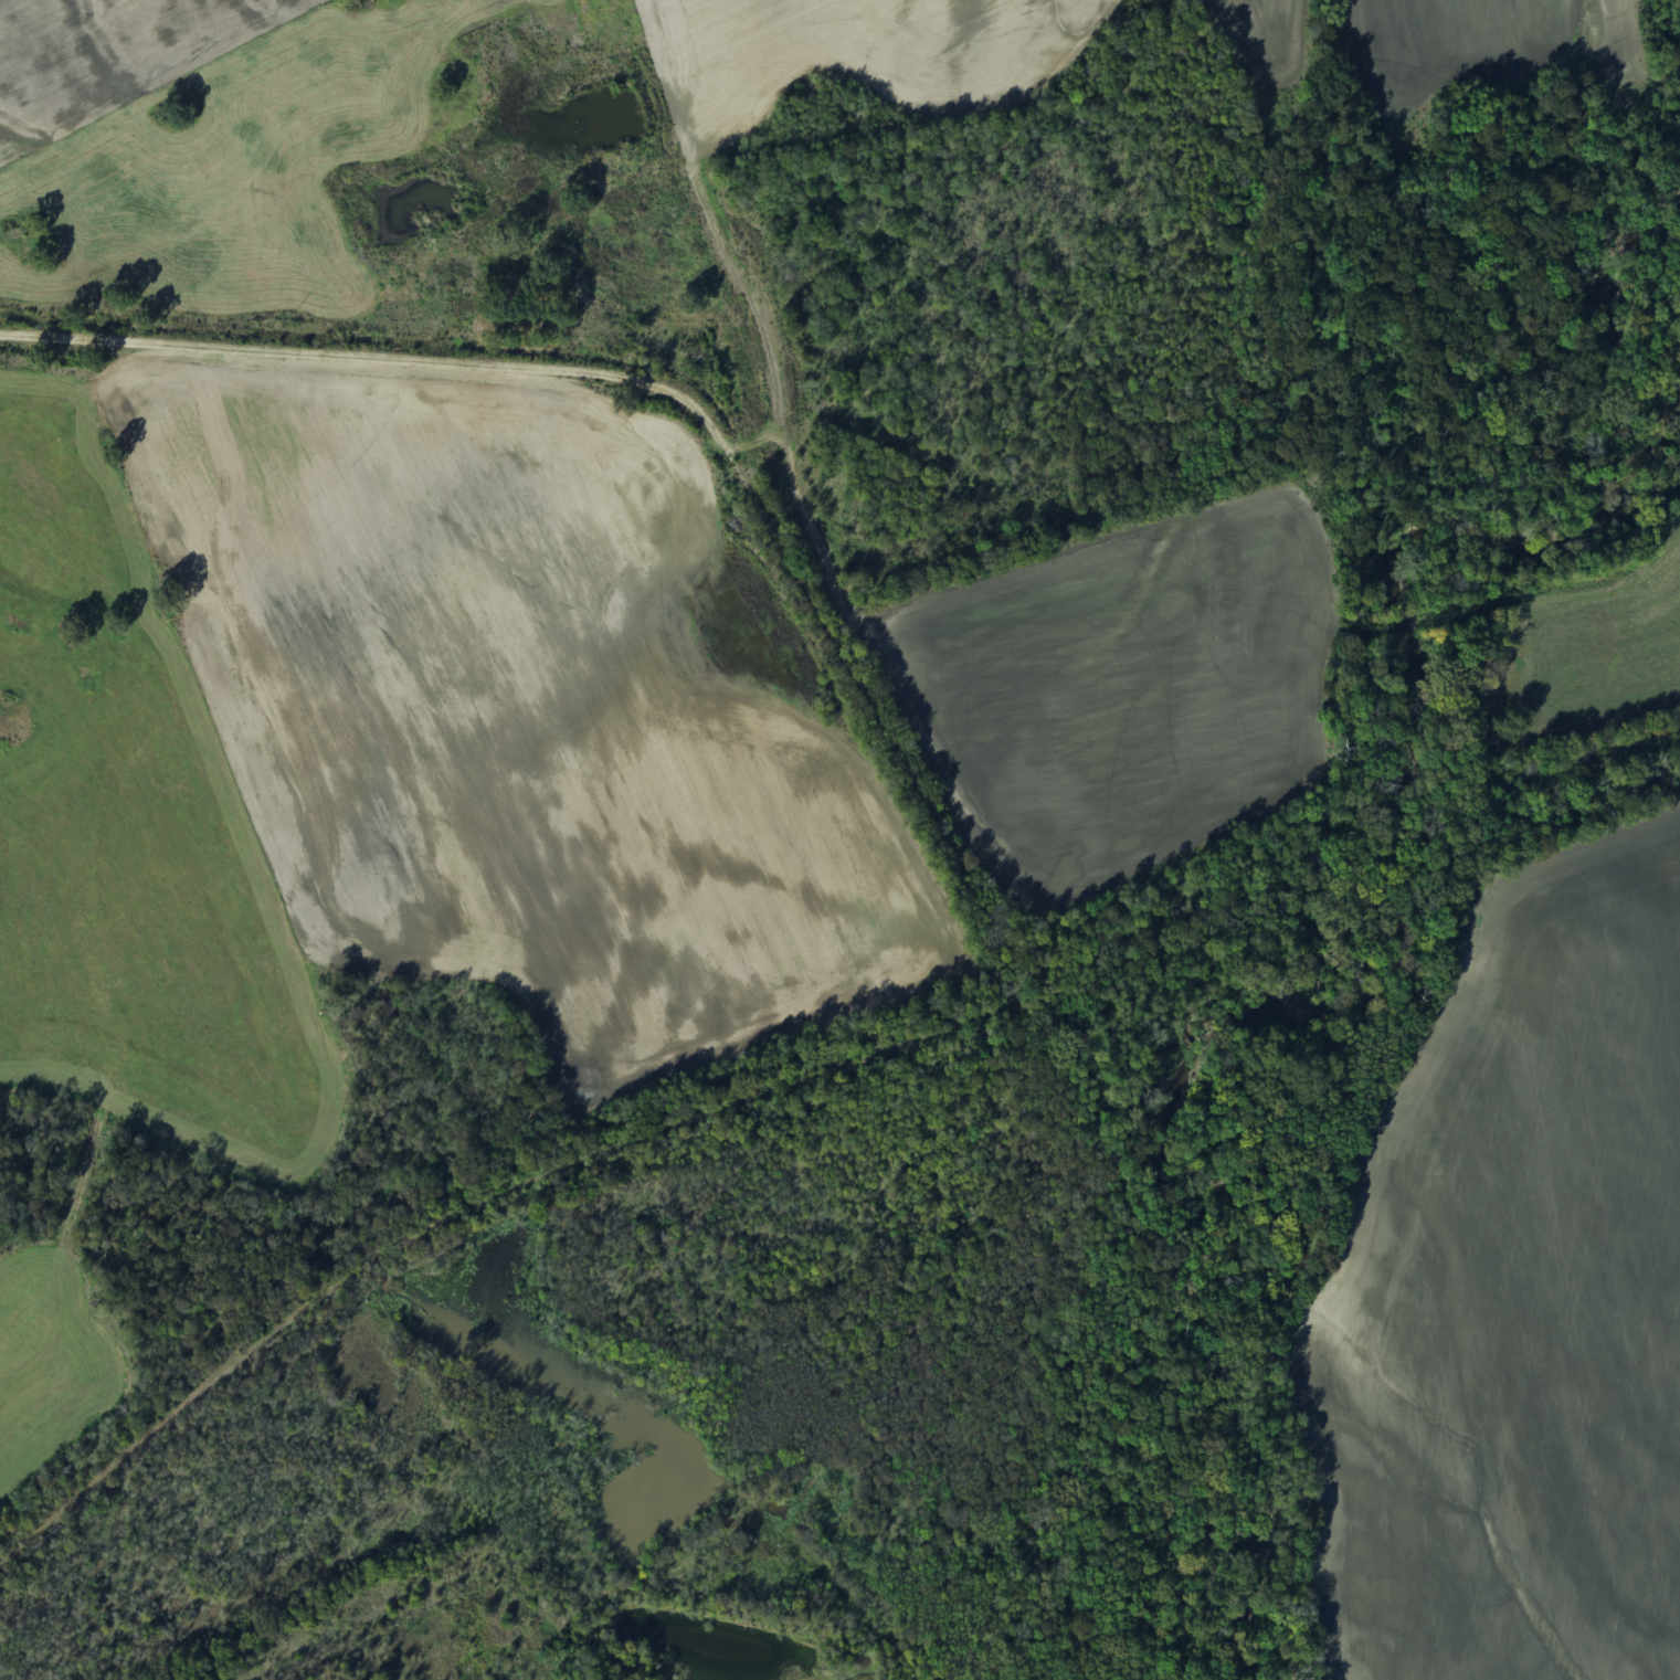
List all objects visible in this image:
building: (678, 307)
railway: (794, 1073)

